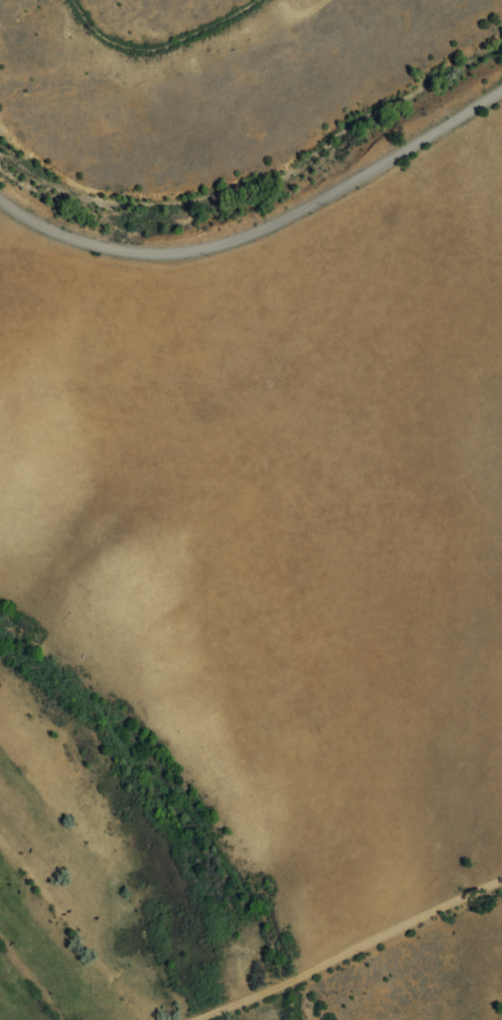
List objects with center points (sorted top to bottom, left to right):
road: (262, 230)
road: (351, 951)

